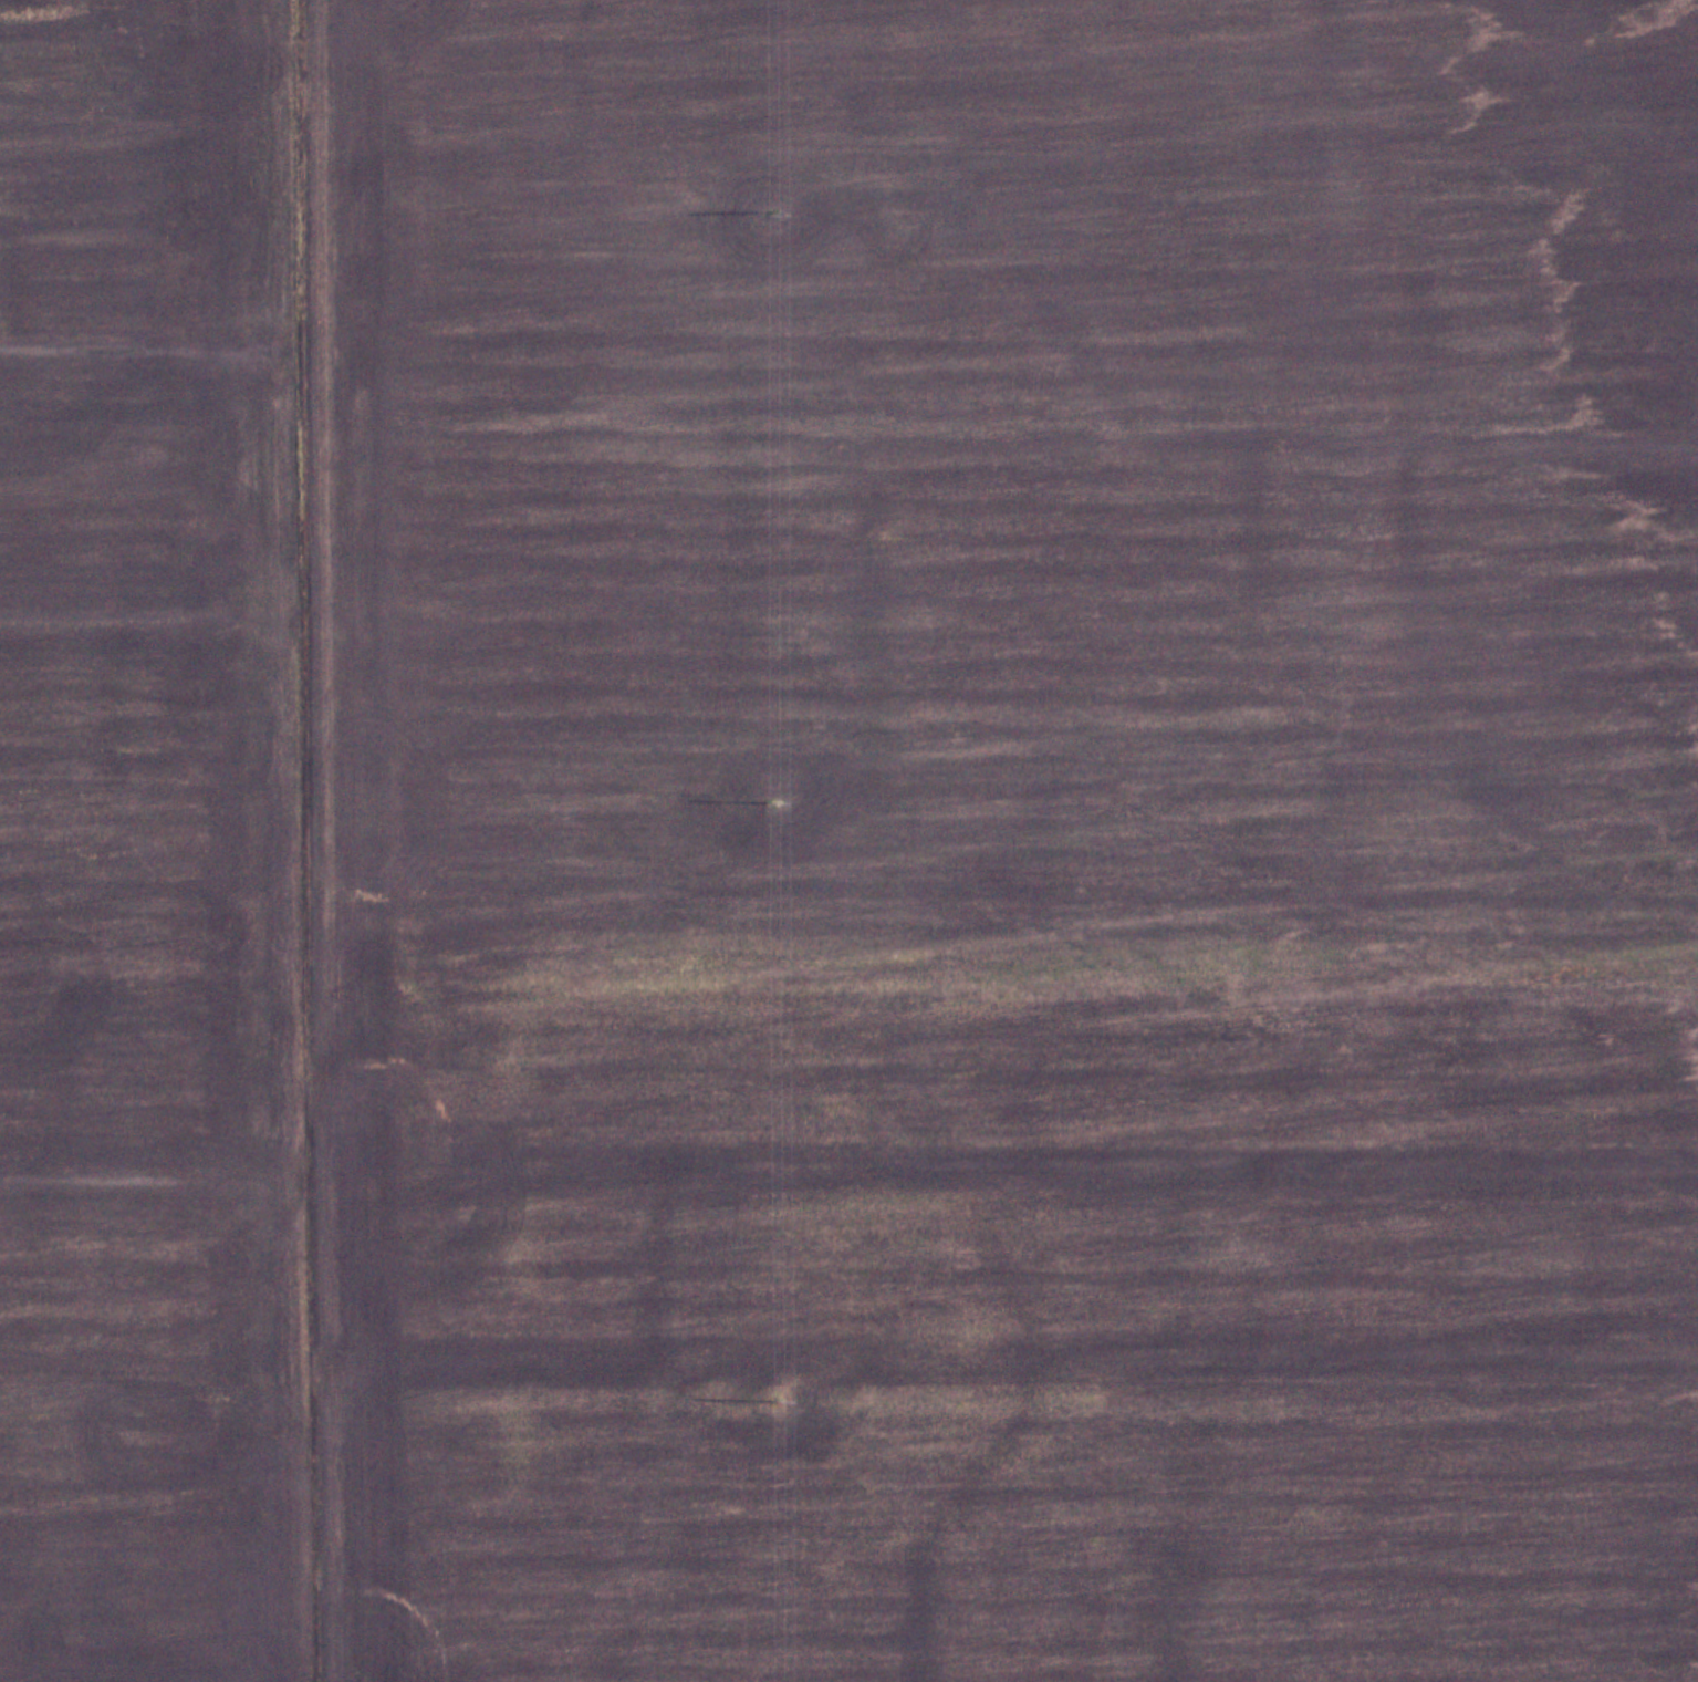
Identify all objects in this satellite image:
power tower: (768, 214)
crop: (1003, 491)
power tower: (771, 801)
crop: (156, 849)
crop: (1008, 1332)
power tower: (775, 1401)

